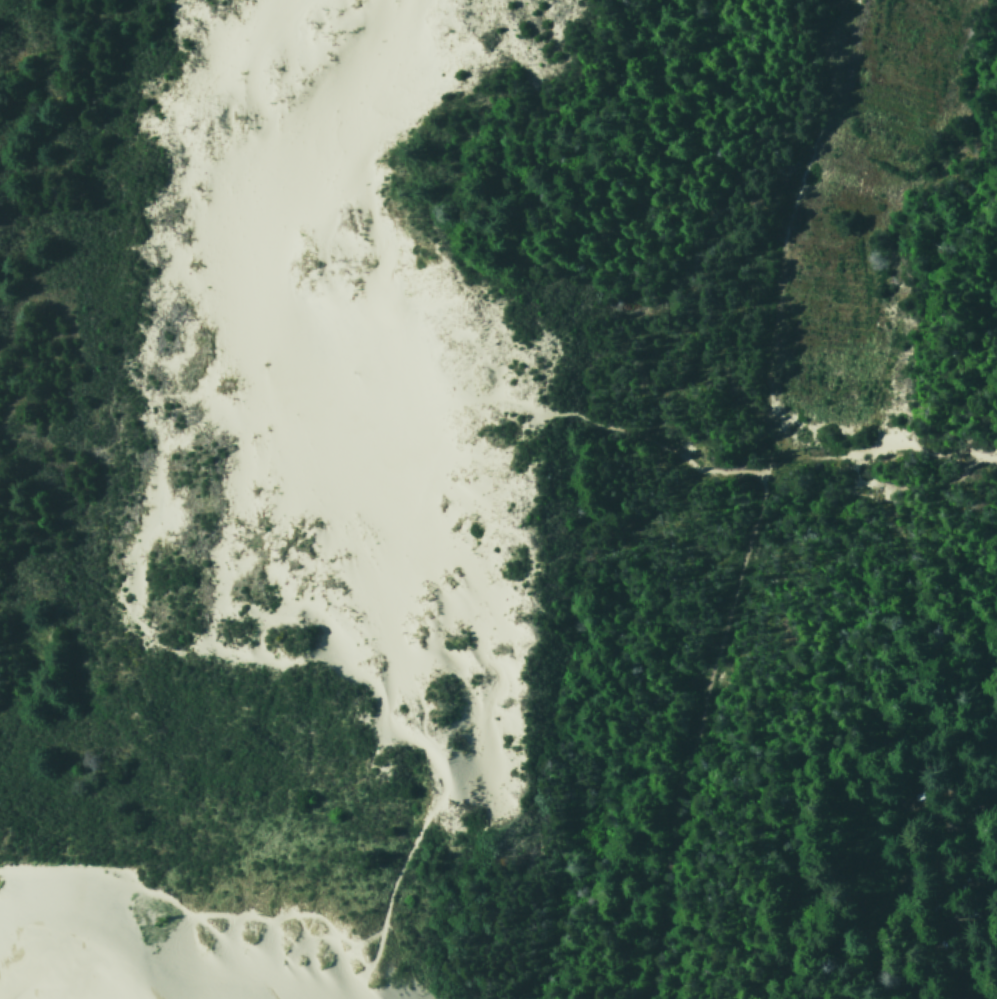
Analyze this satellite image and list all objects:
road: (929, 863)

